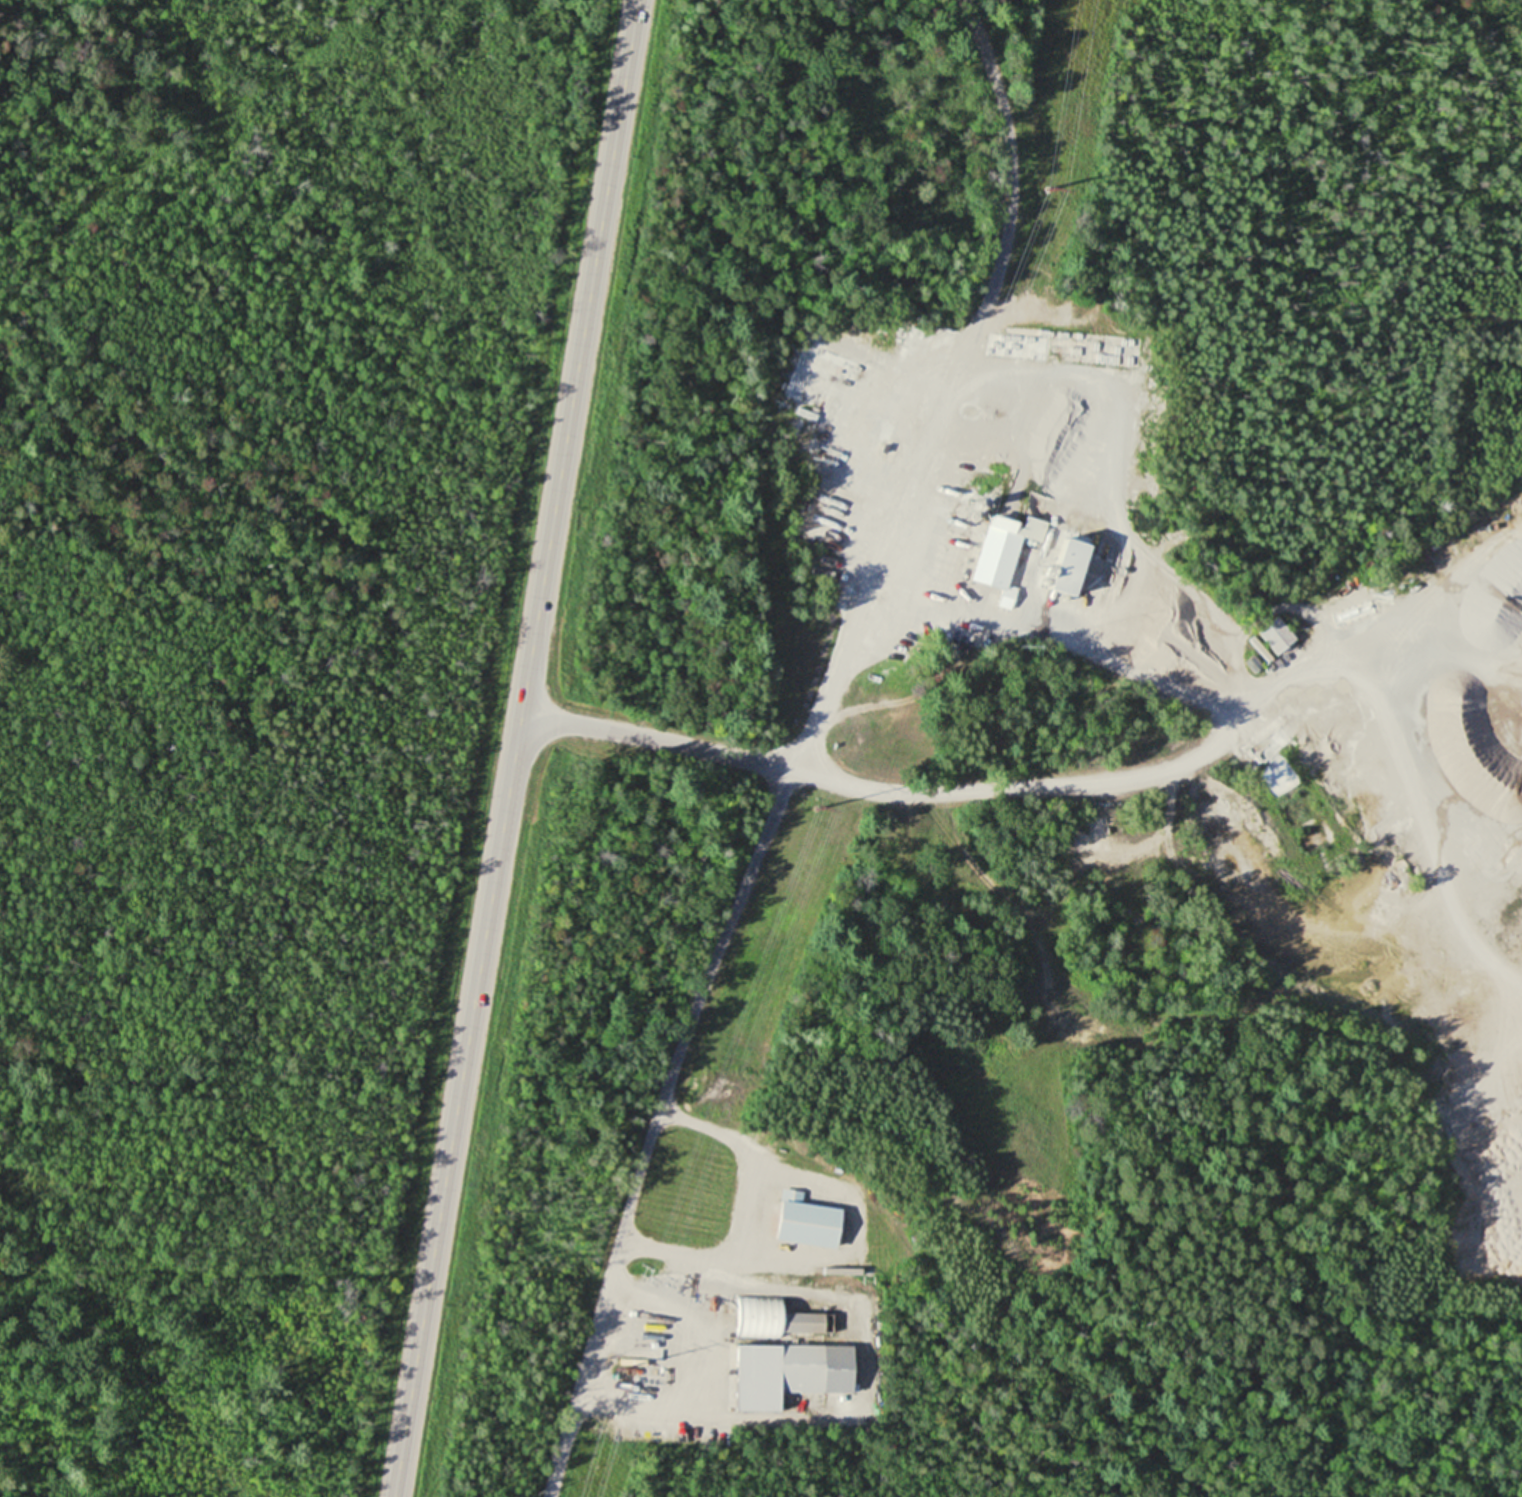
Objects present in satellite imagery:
power tower: (1053, 191)
building: (1005, 553)
quarry: (1157, 621)
building: (1276, 636)
road: (1300, 684)
road: (658, 740)
road: (803, 746)
road: (516, 748)
road: (1190, 761)
road: (1440, 767)
power tower: (817, 806)
building: (807, 1221)
building: (774, 1319)
power tower: (618, 1366)
building: (789, 1372)

